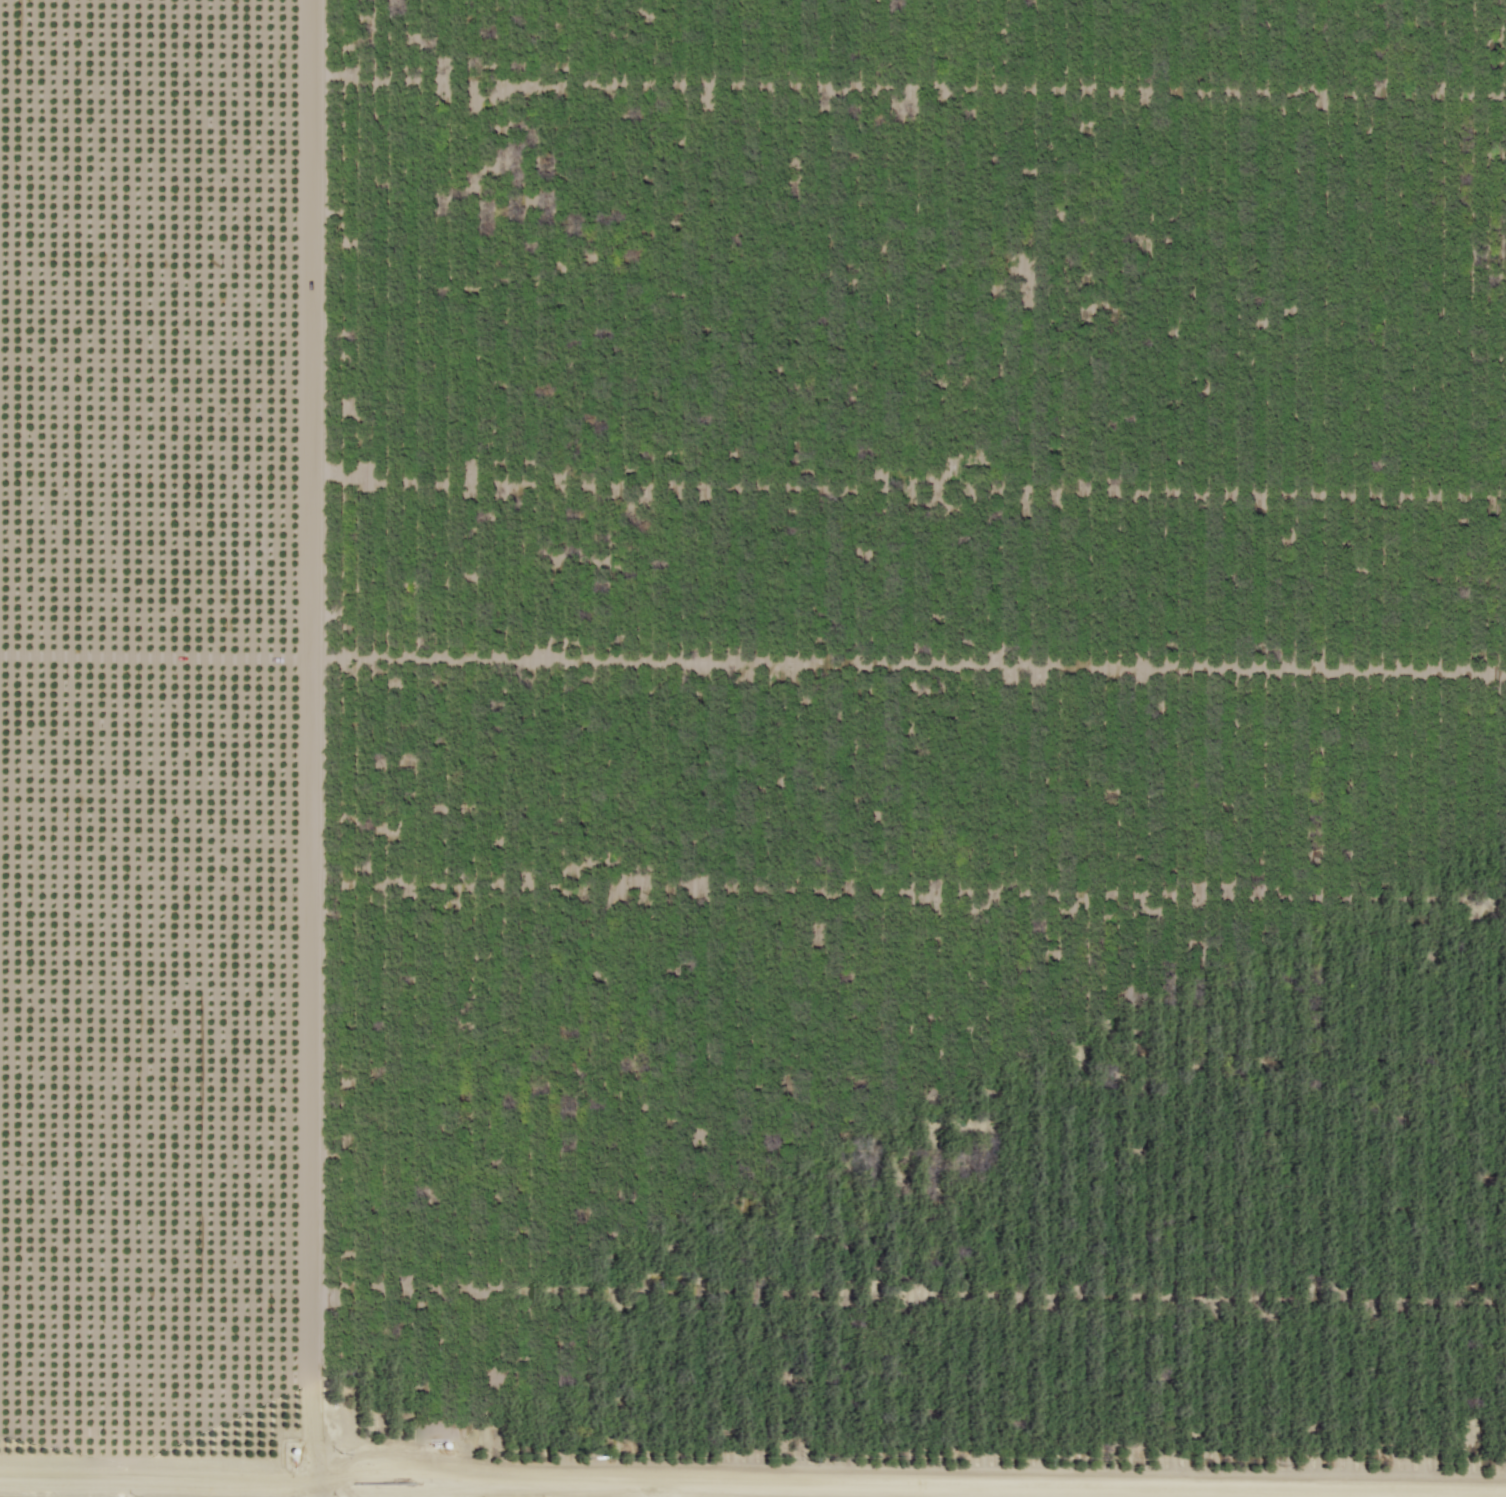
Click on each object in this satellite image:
crop: (939, 733)
road: (753, 1468)

